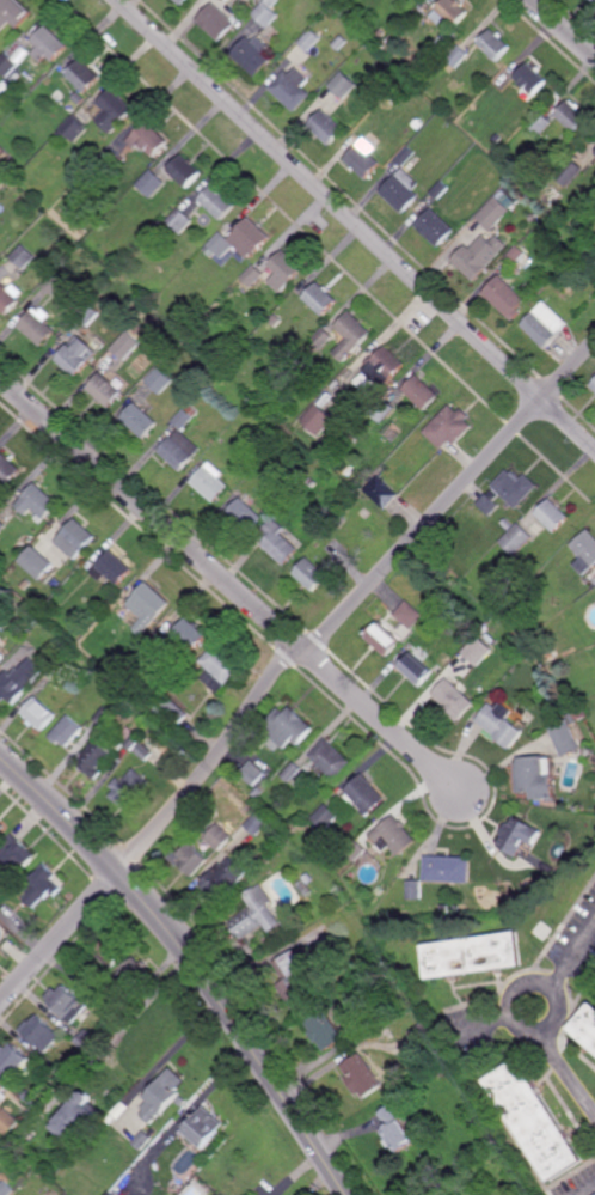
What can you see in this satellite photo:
building: (225, 0)
building: (594, 0)
building: (182, 1)
building: (453, 11)
building: (12, 12)
building: (268, 12)
building: (216, 20)
road: (564, 28)
building: (379, 33)
building: (311, 39)
building: (47, 42)
building: (339, 42)
building: (495, 44)
building: (252, 54)
building: (458, 56)
building: (12, 57)
building: (82, 74)
building: (392, 75)
building: (532, 79)
building: (343, 84)
building: (293, 89)
building: (79, 98)
building: (532, 105)
building: (114, 109)
building: (573, 117)
building: (418, 124)
building: (540, 124)
building: (326, 127)
building: (73, 129)
building: (149, 138)
building: (405, 156)
building: (362, 158)
building: (112, 160)
building: (184, 170)
building: (569, 171)
building: (153, 183)
building: (400, 189)
building: (440, 189)
building: (217, 202)
building: (493, 212)
building: (534, 217)
building: (179, 221)
road: (356, 224)
building: (435, 226)
building: (44, 232)
building: (240, 240)
building: (516, 254)
building: (479, 255)
building: (24, 257)
building: (284, 270)
building: (251, 279)
building: (54, 285)
building: (504, 297)
building: (10, 298)
building: (320, 299)
building: (88, 315)
building: (276, 321)
building: (544, 323)
building: (37, 327)
building: (137, 328)
building: (350, 335)
building: (321, 339)
building: (127, 346)
building: (78, 356)
building: (380, 371)
building: (160, 380)
building: (593, 385)
building: (106, 391)
building: (421, 391)
building: (382, 409)
building: (140, 420)
building: (319, 420)
building: (449, 427)
building: (274, 439)
building: (286, 440)
building: (183, 441)
building: (330, 444)
building: (8, 470)
building: (211, 482)
building: (313, 482)
building: (381, 492)
building: (508, 492)
road: (450, 498)
building: (38, 502)
road: (146, 508)
building: (552, 516)
building: (246, 517)
building: (342, 522)
building: (508, 523)
building: (2, 528)
building: (516, 538)
building: (76, 539)
building: (280, 543)
building: (560, 554)
building: (583, 555)
building: (39, 565)
building: (114, 569)
building: (313, 575)
building: (520, 578)
building: (26, 585)
building: (590, 585)
building: (149, 608)
building: (51, 609)
building: (409, 615)
building: (2, 617)
building: (191, 636)
building: (381, 639)
building: (158, 645)
building: (478, 651)
building: (1, 657)
building: (114, 663)
building: (220, 666)
building: (59, 669)
building: (416, 669)
building: (19, 679)
building: (111, 688)
building: (453, 700)
building: (557, 706)
building: (39, 712)
building: (172, 712)
building: (104, 715)
building: (583, 715)
road: (375, 717)
building: (501, 725)
building: (284, 728)
building: (67, 731)
building: (566, 738)
building: (147, 748)
building: (108, 750)
building: (588, 752)
building: (330, 758)
building: (253, 773)
building: (294, 774)
building: (535, 779)
building: (128, 788)
building: (363, 794)
building: (324, 816)
building: (257, 822)
building: (1, 827)
road: (155, 829)
building: (219, 836)
building: (393, 836)
building: (521, 837)
building: (355, 850)
building: (16, 853)
building: (189, 859)
building: (447, 870)
building: (307, 878)
building: (223, 879)
building: (41, 885)
building: (303, 889)
building: (380, 890)
building: (415, 891)
building: (438, 896)
building: (446, 909)
building: (456, 909)
building: (254, 913)
building: (111, 950)
building: (472, 953)
road: (191, 961)
road: (565, 962)
building: (133, 976)
building: (294, 978)
building: (88, 988)
building: (67, 1002)
building: (117, 1011)
building: (587, 1024)
building: (104, 1029)
building: (324, 1030)
building: (42, 1034)
building: (423, 1035)
building: (87, 1041)
road: (177, 1047)
building: (12, 1059)
road: (559, 1061)
building: (361, 1078)
building: (2, 1093)
building: (32, 1099)
building: (160, 1101)
building: (184, 1101)
building: (118, 1114)
building: (477, 1117)
building: (79, 1118)
building: (534, 1118)
building: (8, 1122)
building: (204, 1127)
building: (395, 1129)
building: (143, 1140)
building: (125, 1183)
building: (6, 1189)
road: (589, 1191)

